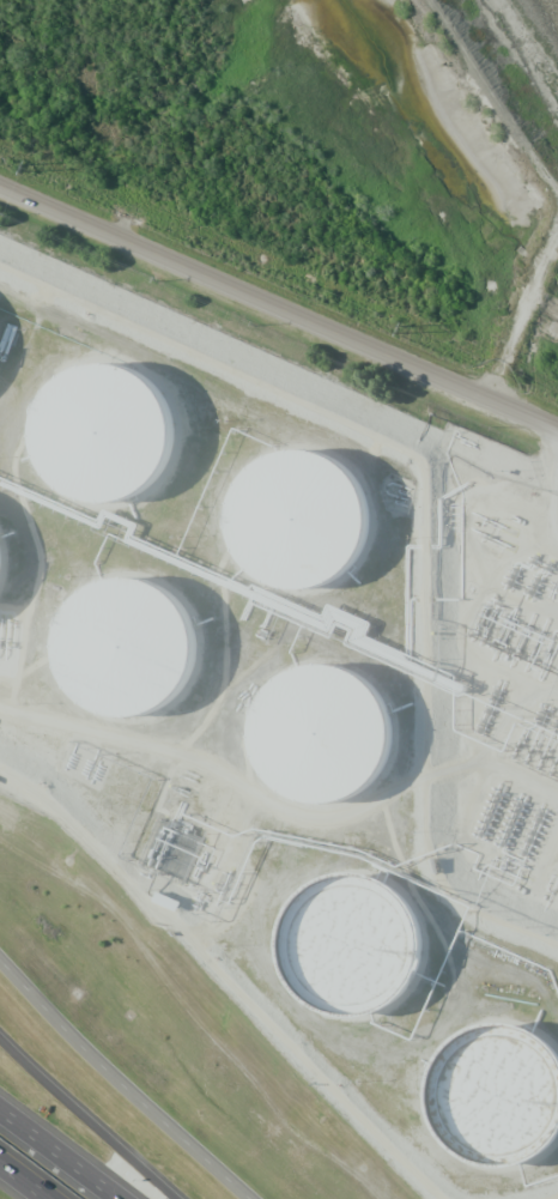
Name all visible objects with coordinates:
power tower: (26, 169)
road: (279, 308)
power tower: (399, 328)
building: (122, 446)
storage tank: (122, 446)
building: (317, 531)
storage tank: (317, 531)
building: (1, 567)
storage tank: (1, 567)
building: (140, 656)
storage tank: (140, 656)
building: (339, 745)
storage tank: (339, 745)
building: (363, 959)
storage tank: (363, 959)
road: (122, 1082)
building: (503, 1109)
storage tank: (503, 1109)
road: (86, 1114)
road: (56, 1158)
road: (23, 1182)

